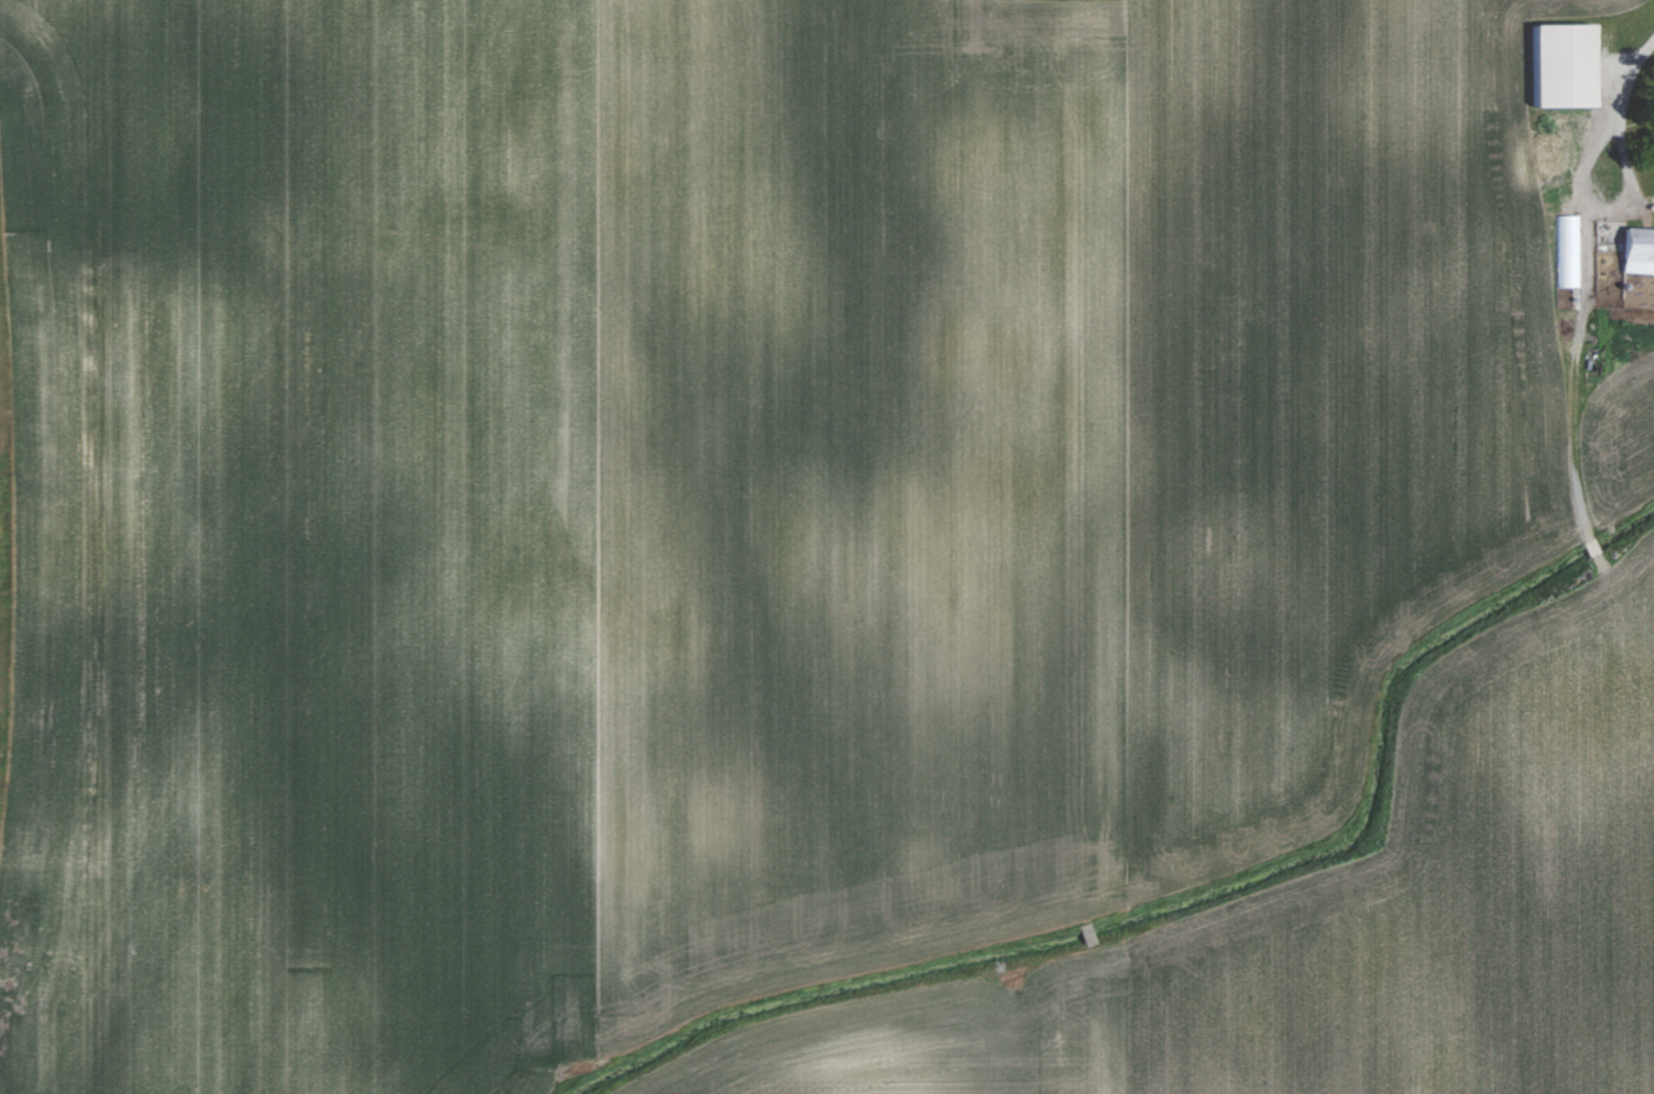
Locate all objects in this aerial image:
building: (1556, 66)
road: (1630, 69)
road: (1602, 204)

